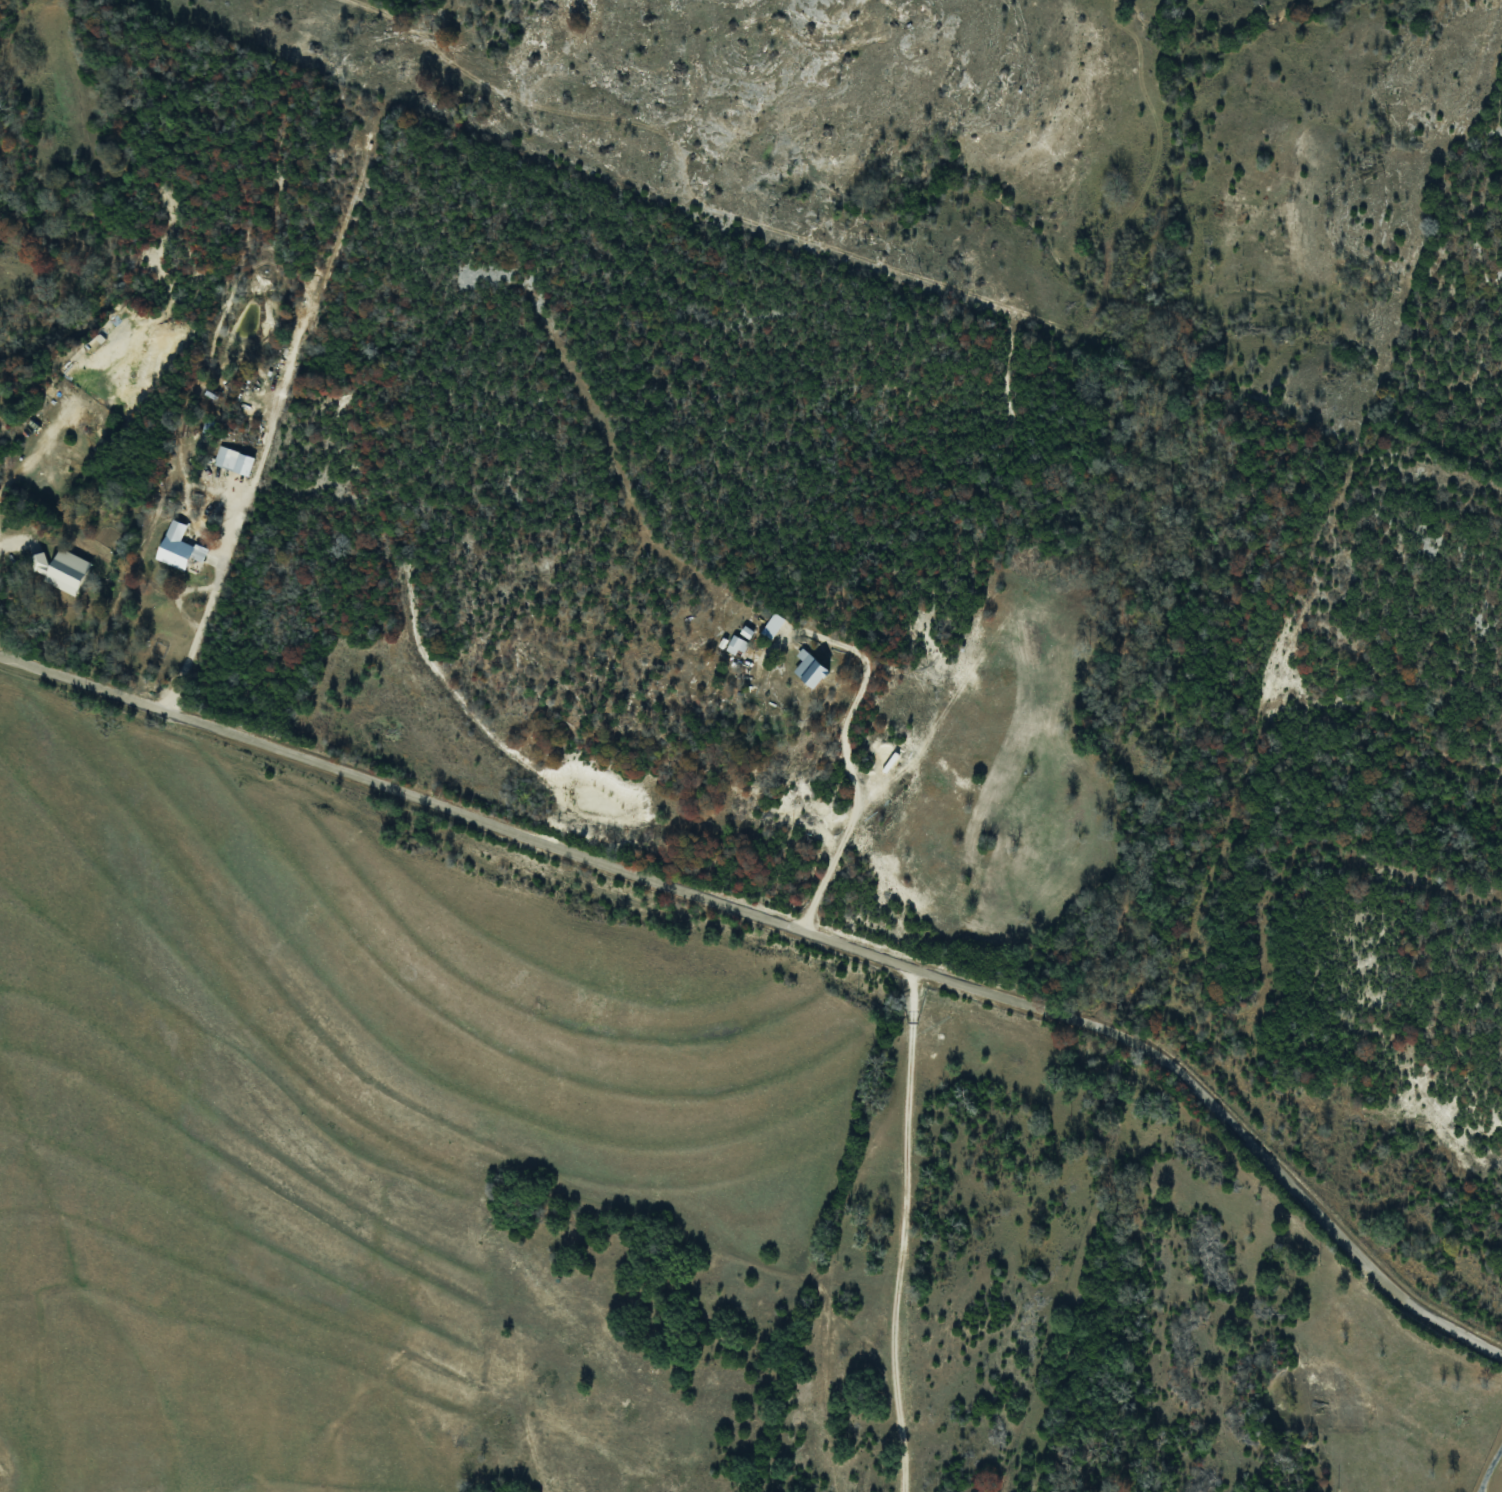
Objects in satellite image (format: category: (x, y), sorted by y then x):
building: (76, 457)
building: (234, 461)
building: (179, 548)
building: (773, 626)
building: (737, 646)
building: (812, 670)
road: (796, 935)
road: (914, 1234)

